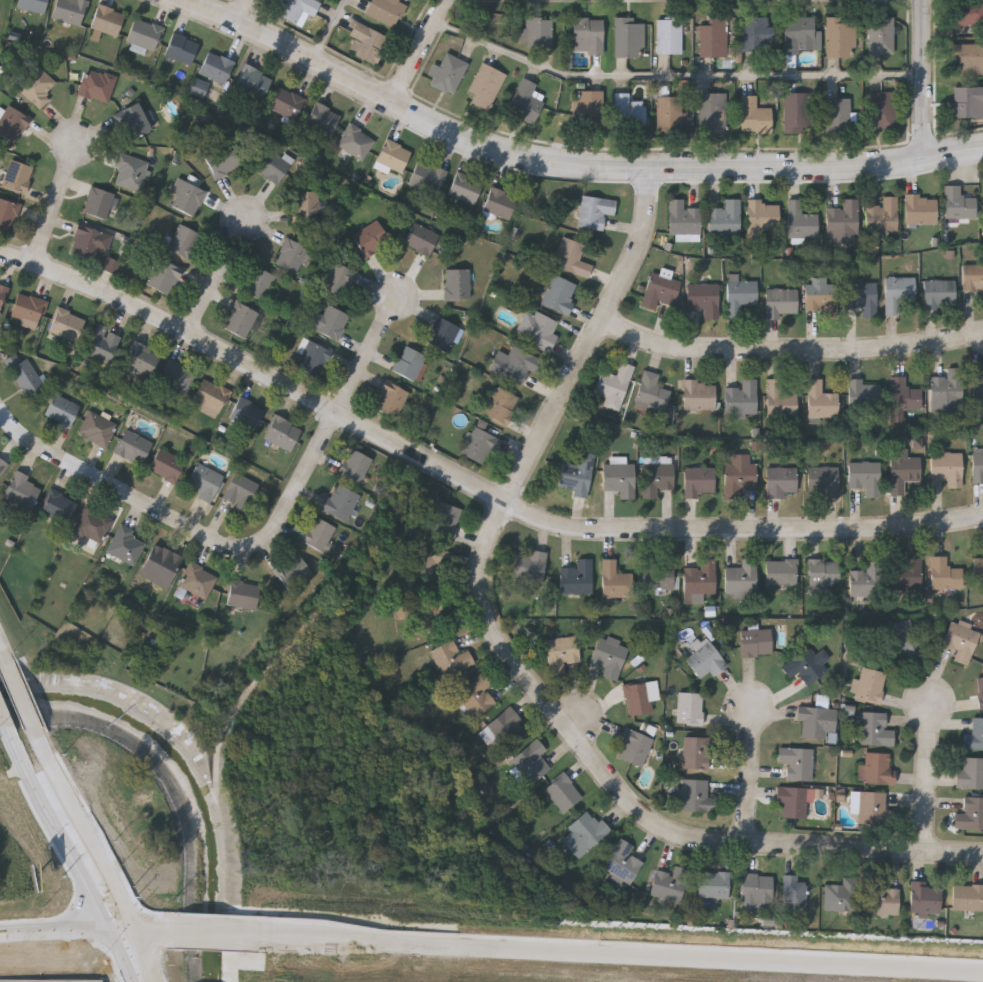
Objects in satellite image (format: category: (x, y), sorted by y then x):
building: (32, 4)
building: (296, 8)
building: (70, 9)
building: (384, 10)
road: (244, 11)
building: (969, 12)
building: (107, 17)
road: (329, 30)
building: (144, 32)
building: (539, 33)
building: (756, 33)
building: (881, 33)
building: (588, 34)
building: (801, 34)
building: (669, 35)
building: (841, 35)
building: (629, 36)
building: (713, 37)
building: (366, 41)
building: (181, 46)
road: (422, 50)
building: (967, 57)
building: (216, 64)
building: (447, 72)
road: (675, 74)
building: (253, 79)
road: (925, 79)
building: (37, 83)
building: (97, 84)
building: (486, 84)
building: (200, 88)
building: (287, 99)
building: (967, 100)
building: (524, 101)
building: (590, 108)
building: (881, 108)
building: (796, 111)
building: (628, 112)
building: (712, 112)
building: (669, 113)
building: (837, 113)
building: (753, 115)
building: (322, 116)
building: (134, 117)
building: (203, 120)
building: (12, 121)
building: (356, 138)
building: (393, 153)
building: (222, 158)
building: (272, 163)
road: (563, 165)
building: (131, 168)
building: (17, 174)
building: (427, 175)
building: (465, 185)
building: (189, 196)
building: (500, 200)
building: (958, 200)
building: (99, 201)
building: (306, 203)
road: (57, 205)
building: (921, 207)
building: (595, 209)
building: (7, 211)
building: (883, 213)
building: (683, 215)
building: (725, 215)
building: (762, 215)
building: (801, 218)
building: (843, 219)
building: (371, 236)
building: (421, 236)
building: (183, 238)
building: (89, 239)
building: (291, 253)
building: (572, 255)
building: (110, 265)
building: (164, 274)
building: (338, 276)
road: (219, 277)
building: (974, 278)
building: (259, 281)
building: (457, 281)
building: (660, 288)
building: (898, 290)
building: (2, 291)
building: (939, 291)
building: (560, 292)
building: (821, 292)
building: (741, 294)
building: (862, 295)
building: (704, 296)
building: (782, 299)
building: (28, 307)
building: (240, 316)
building: (333, 320)
building: (66, 323)
building: (537, 327)
building: (444, 332)
building: (102, 340)
road: (792, 347)
road: (370, 355)
building: (142, 356)
building: (313, 356)
building: (411, 361)
building: (517, 361)
building: (24, 372)
building: (176, 374)
building: (978, 379)
building: (614, 383)
building: (948, 384)
building: (651, 390)
building: (863, 391)
building: (699, 392)
building: (903, 392)
building: (211, 393)
building: (741, 395)
building: (390, 397)
building: (821, 397)
building: (780, 399)
building: (502, 403)
building: (62, 408)
building: (246, 410)
building: (97, 426)
building: (282, 430)
building: (480, 443)
building: (134, 444)
building: (167, 462)
building: (2, 463)
building: (354, 463)
building: (978, 463)
building: (947, 465)
building: (903, 467)
building: (578, 471)
building: (740, 471)
building: (660, 473)
building: (866, 475)
building: (620, 476)
building: (700, 479)
building: (782, 479)
building: (823, 479)
building: (204, 480)
road: (470, 481)
building: (23, 488)
building: (241, 489)
building: (341, 499)
building: (59, 503)
road: (506, 507)
building: (446, 514)
building: (92, 523)
road: (190, 527)
building: (318, 531)
building: (126, 542)
building: (422, 551)
building: (162, 559)
building: (529, 563)
building: (978, 567)
building: (782, 569)
building: (293, 570)
building: (945, 571)
building: (822, 572)
building: (906, 572)
building: (658, 574)
building: (577, 575)
building: (742, 575)
building: (701, 576)
building: (197, 578)
building: (615, 579)
building: (864, 579)
building: (243, 592)
building: (429, 610)
building: (960, 634)
building: (899, 635)
building: (756, 640)
building: (562, 647)
road: (1, 650)
building: (610, 653)
building: (450, 656)
building: (705, 656)
building: (805, 663)
building: (870, 684)
building: (980, 689)
building: (477, 693)
road: (21, 695)
building: (639, 696)
building: (690, 706)
building: (813, 719)
road: (5, 722)
building: (507, 725)
building: (874, 727)
building: (974, 733)
building: (635, 743)
building: (697, 750)
building: (531, 759)
building: (797, 760)
building: (876, 767)
building: (970, 771)
road: (749, 776)
road: (929, 778)
building: (563, 790)
building: (696, 793)
building: (792, 798)
building: (872, 804)
building: (970, 810)
building: (585, 830)
road: (61, 834)
road: (88, 836)
road: (813, 846)
building: (623, 860)
building: (670, 882)
building: (715, 882)
building: (757, 889)
building: (794, 890)
building: (842, 893)
building: (924, 895)
building: (968, 895)
building: (882, 896)
road: (69, 932)
traffic signals: (115, 934)
traffic signals: (138, 935)
road: (151, 935)
road: (311, 942)
road: (125, 958)
road: (148, 958)
road: (720, 961)

